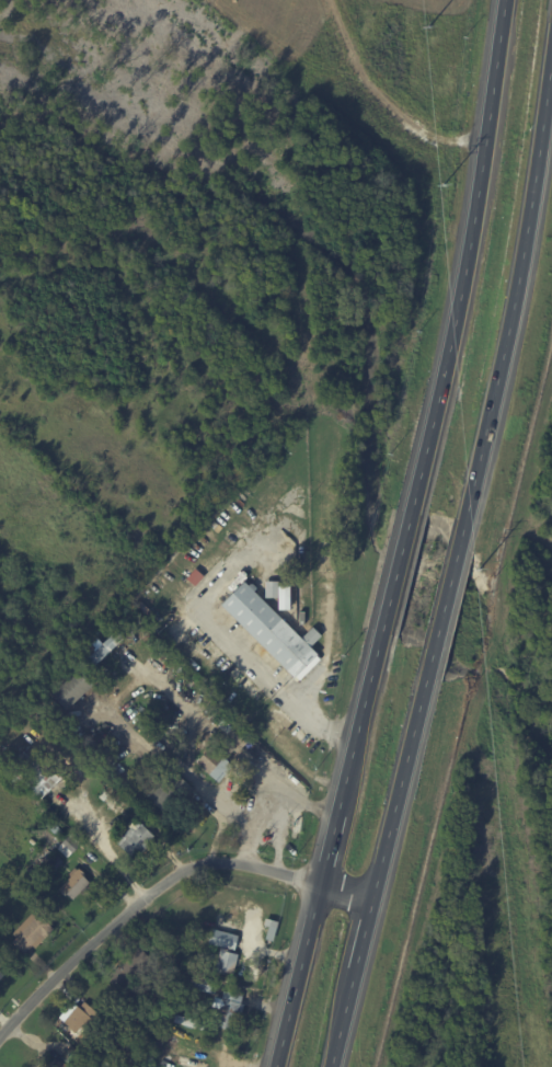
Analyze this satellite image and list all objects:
road: (468, 255)
road: (516, 289)
road: (398, 570)
building: (194, 575)
road: (450, 583)
building: (269, 588)
building: (284, 597)
building: (302, 617)
building: (272, 629)
building: (106, 647)
road: (252, 666)
building: (74, 688)
building: (140, 709)
building: (35, 753)
road: (352, 758)
building: (216, 765)
building: (38, 773)
building: (171, 791)
building: (295, 823)
building: (55, 828)
building: (137, 839)
building: (34, 841)
building: (71, 844)
road: (380, 857)
building: (44, 861)
building: (76, 884)
road: (161, 887)
building: (48, 914)
building: (274, 929)
building: (34, 932)
building: (222, 933)
building: (225, 960)
building: (133, 970)
building: (250, 971)
building: (1, 975)
road: (298, 976)
building: (206, 984)
building: (232, 1010)
building: (81, 1017)
building: (188, 1021)
building: (150, 1034)
building: (124, 1039)
building: (73, 1056)
building: (58, 1065)

